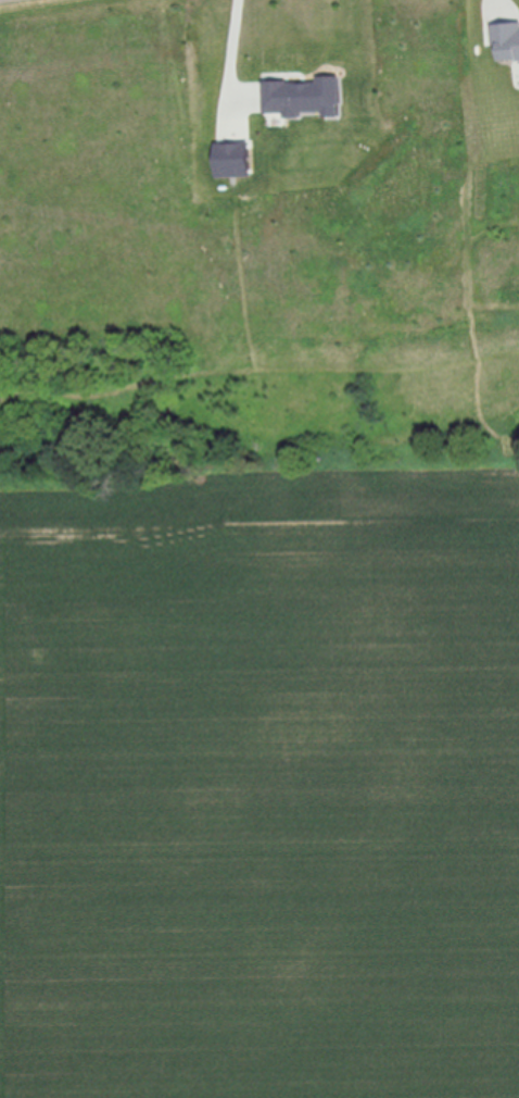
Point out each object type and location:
road: (231, 49)
crop: (259, 778)

